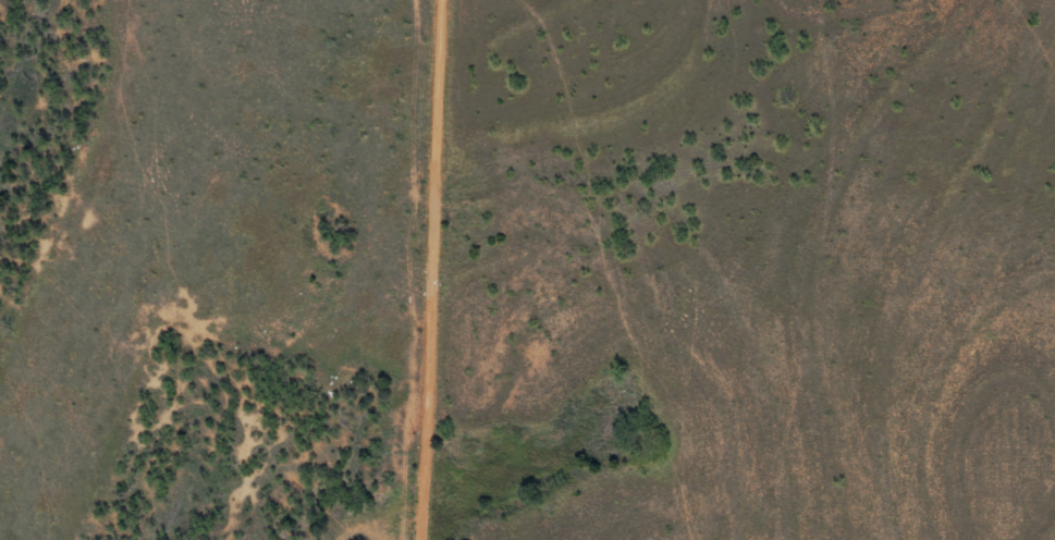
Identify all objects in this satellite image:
road: (1051, 179)
road: (433, 269)

